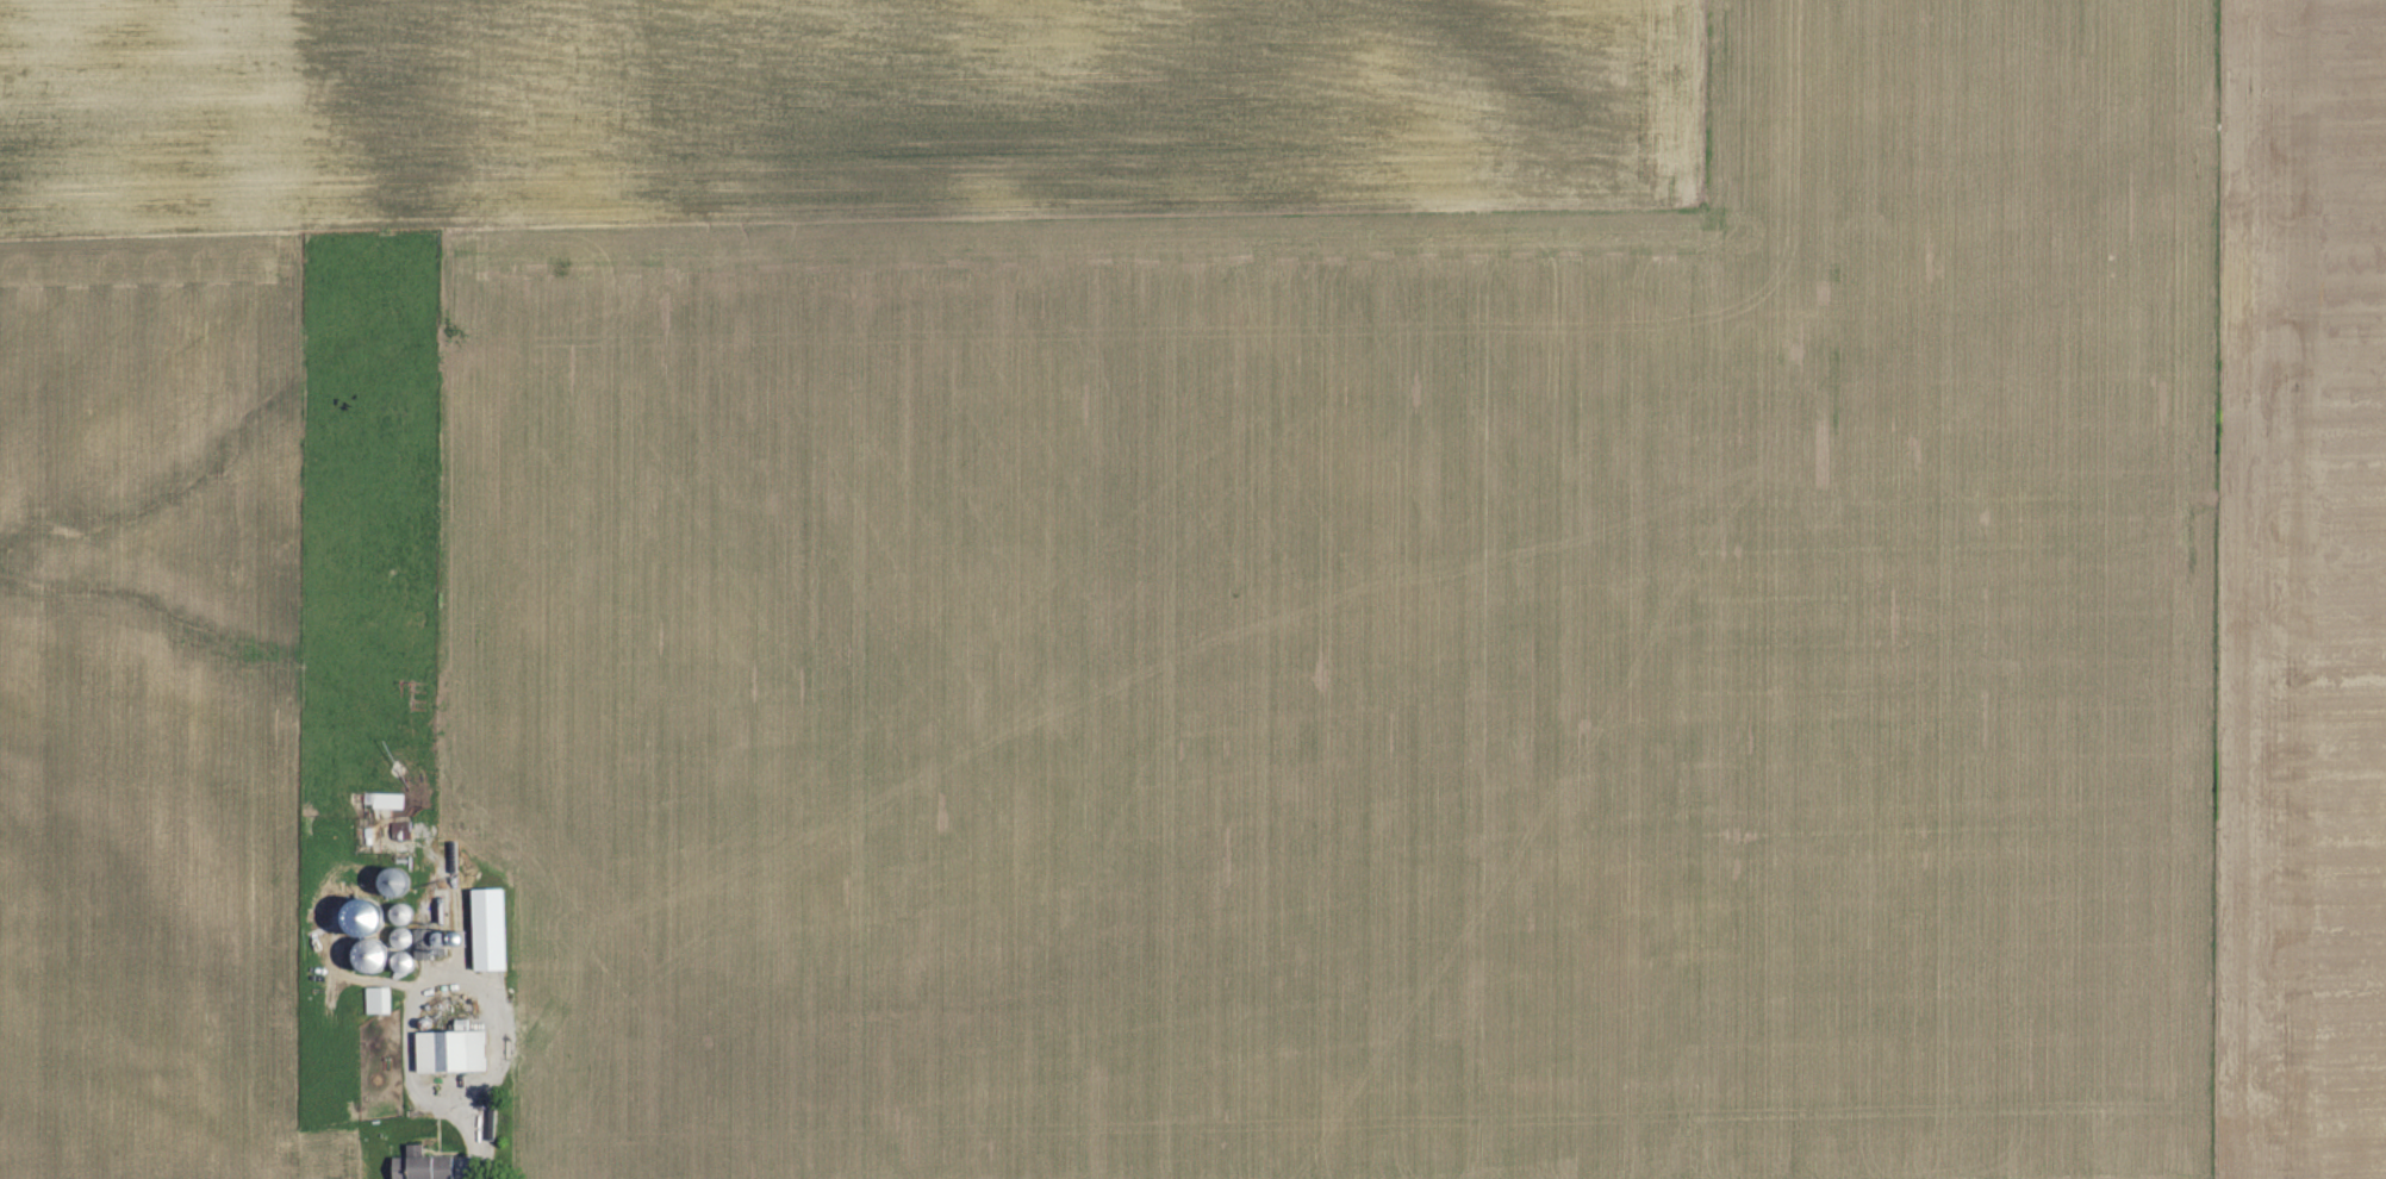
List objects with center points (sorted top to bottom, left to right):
building: (384, 801)
building: (488, 931)
building: (378, 1002)
building: (450, 1053)
building: (429, 1168)

